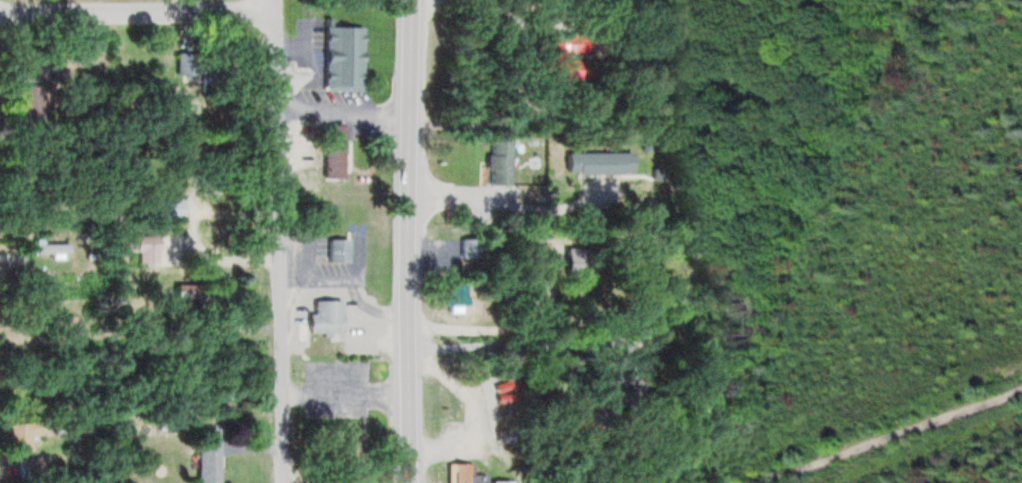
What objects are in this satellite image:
road: (136, 12)
building: (342, 57)
building: (562, 59)
building: (185, 63)
building: (45, 68)
building: (212, 70)
building: (31, 103)
road: (343, 111)
building: (331, 150)
building: (497, 161)
building: (597, 162)
building: (208, 174)
building: (167, 208)
road: (538, 209)
road: (278, 241)
road: (410, 241)
building: (135, 246)
building: (470, 247)
building: (44, 248)
building: (336, 250)
road: (319, 277)
building: (203, 293)
building: (455, 297)
road: (357, 300)
building: (325, 317)
road: (513, 326)
building: (173, 332)
road: (537, 347)
road: (347, 395)
building: (611, 400)
road: (877, 433)
building: (22, 435)
building: (208, 460)
building: (347, 463)
building: (29, 468)
building: (463, 474)
building: (500, 481)

